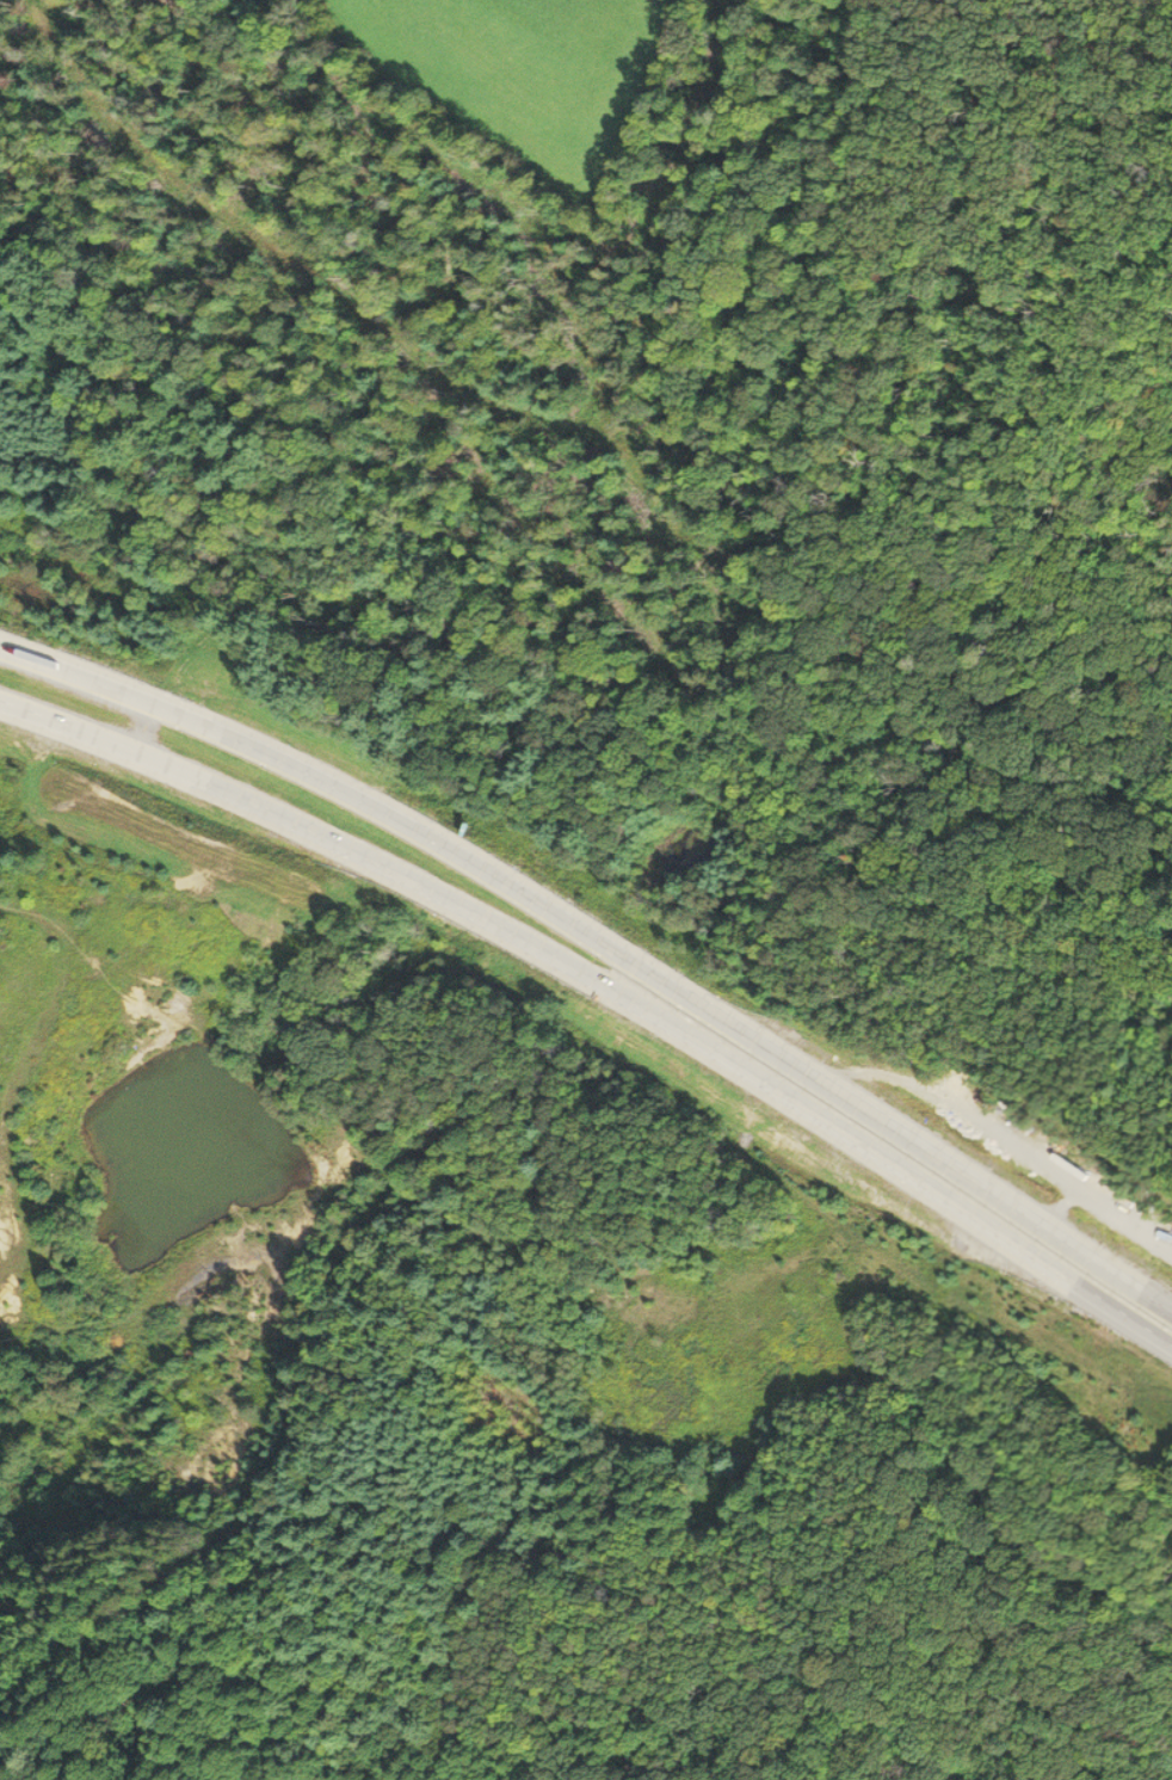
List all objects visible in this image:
road: (603, 949)
road: (599, 997)

